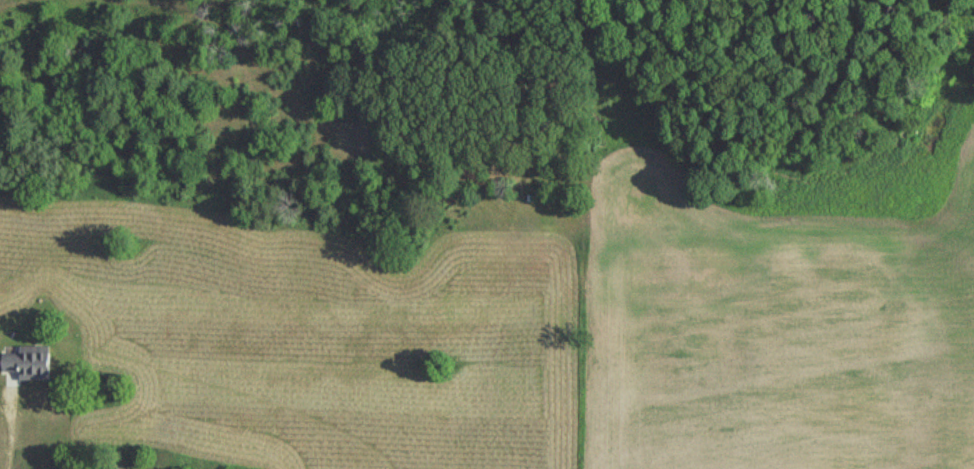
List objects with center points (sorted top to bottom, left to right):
building: (31, 361)

